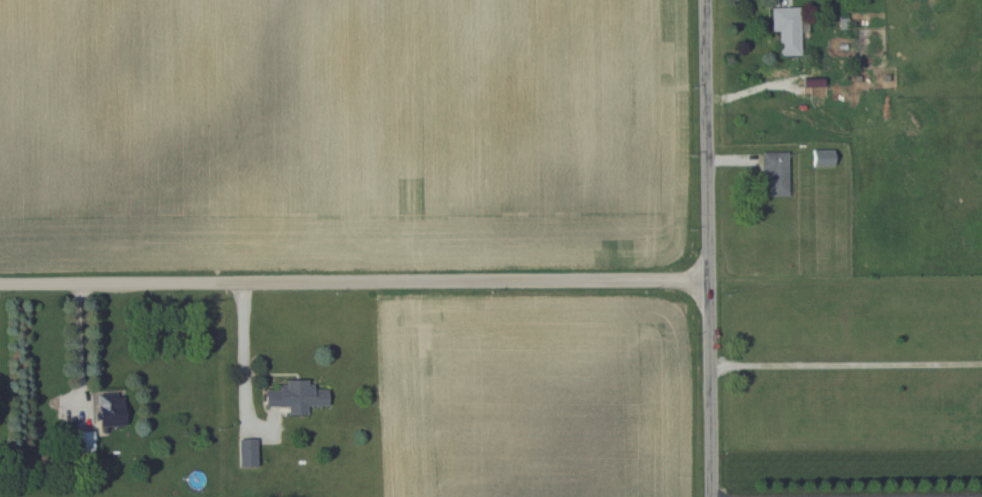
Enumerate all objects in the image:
building: (785, 28)
building: (821, 156)
building: (774, 171)
road: (710, 248)
road: (355, 283)
road: (80, 349)
road: (246, 351)
road: (847, 362)
building: (293, 395)
building: (108, 408)
building: (81, 439)
building: (244, 451)
road: (856, 495)

